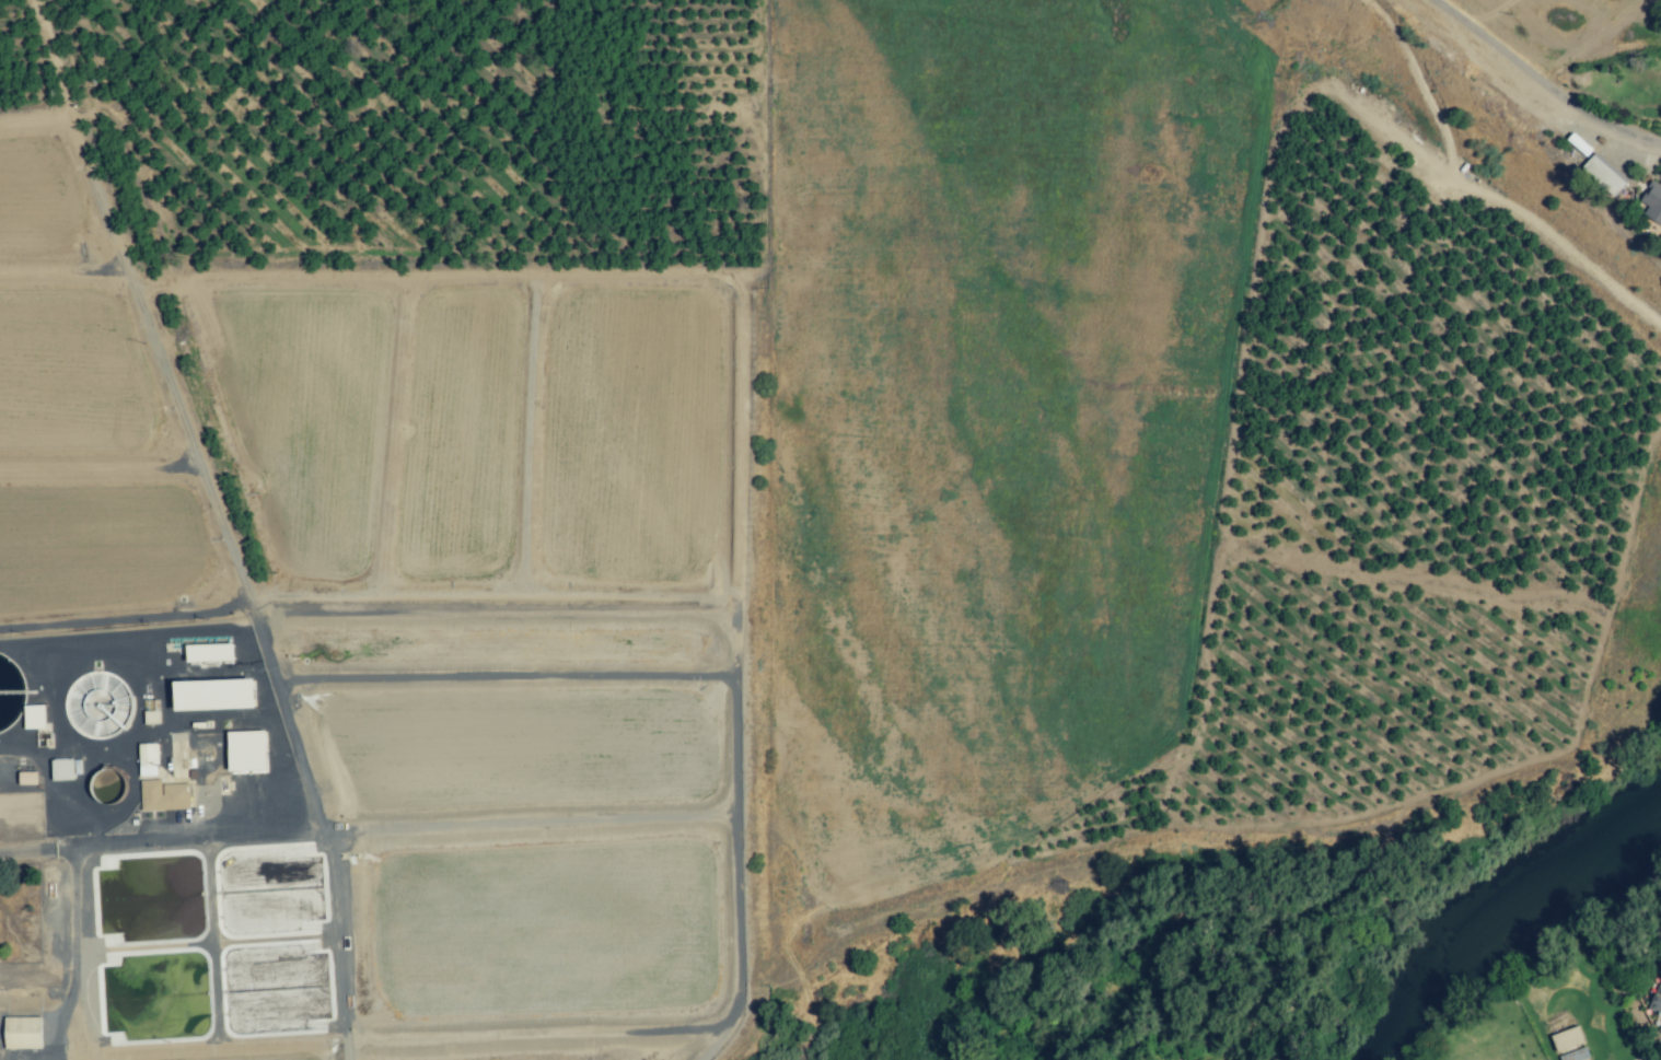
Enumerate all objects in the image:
road: (1545, 84)
crop: (393, 136)
building: (1604, 174)
building: (1651, 202)
crop: (1410, 535)
building: (210, 653)
building: (216, 695)
building: (34, 717)
building: (247, 750)
building: (147, 759)
building: (63, 769)
building: (164, 795)
river: (1490, 910)
road: (75, 933)
building: (1657, 1001)
building: (1659, 1029)
building: (23, 1033)
building: (1567, 1038)

